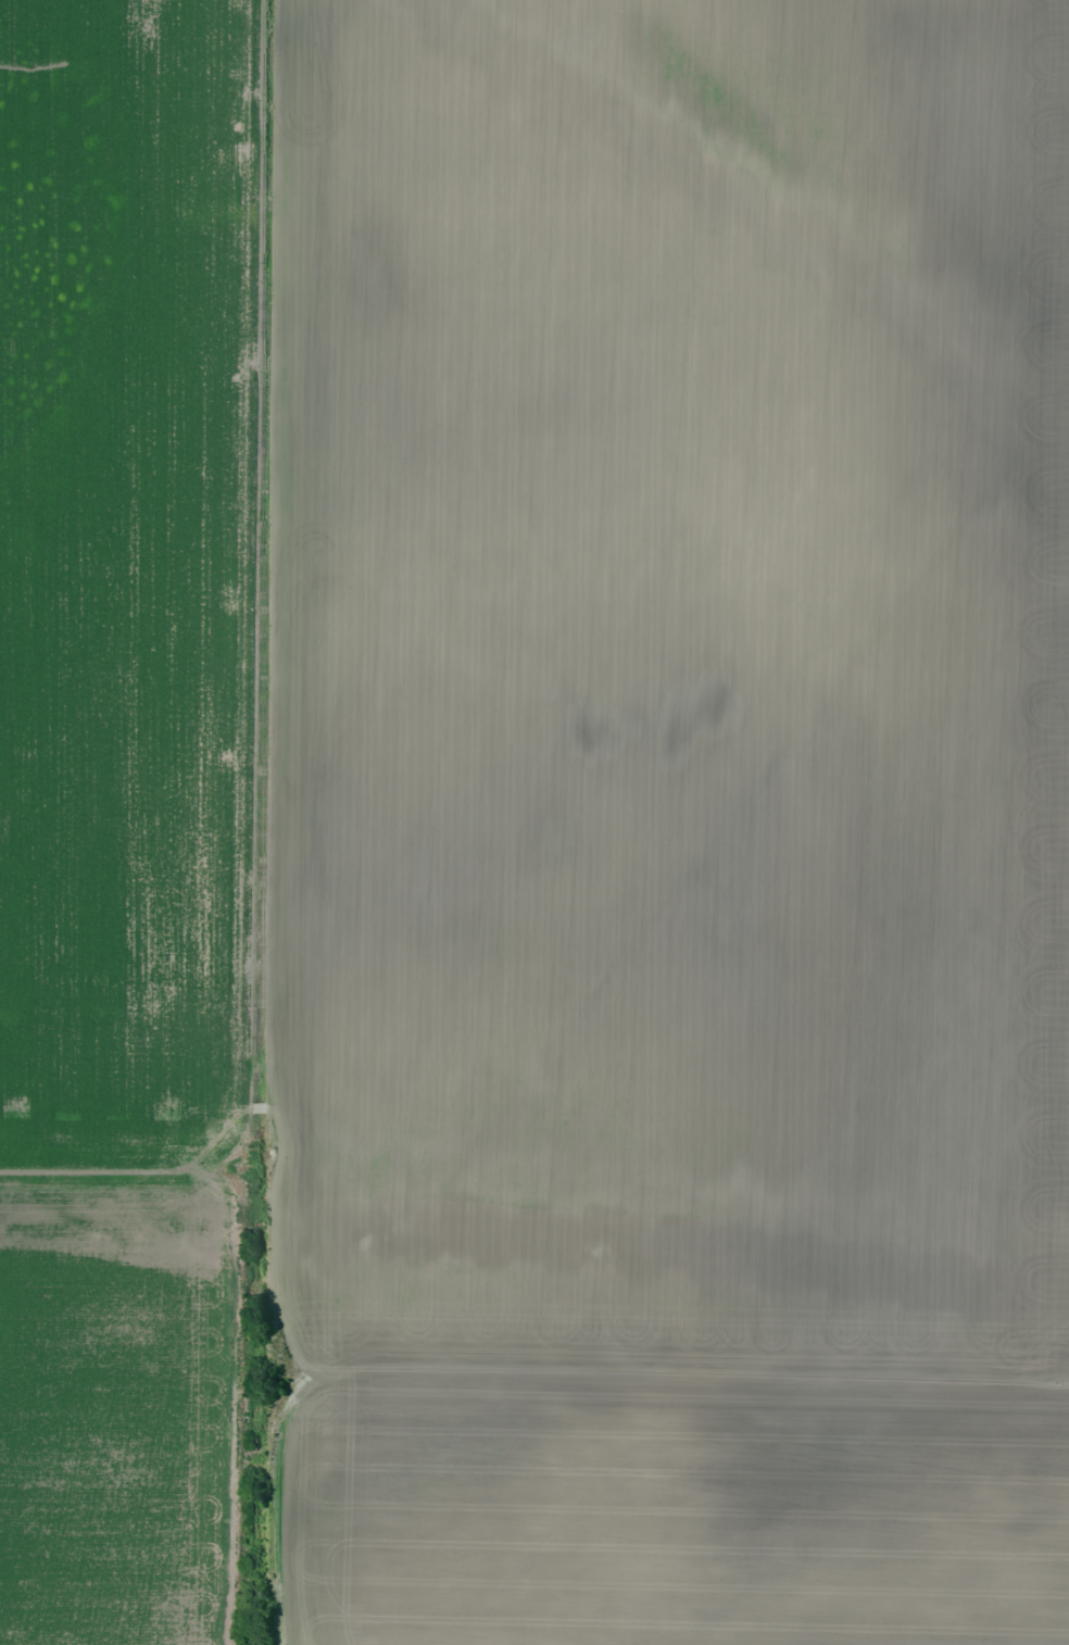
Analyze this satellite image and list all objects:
road: (126, 1158)

